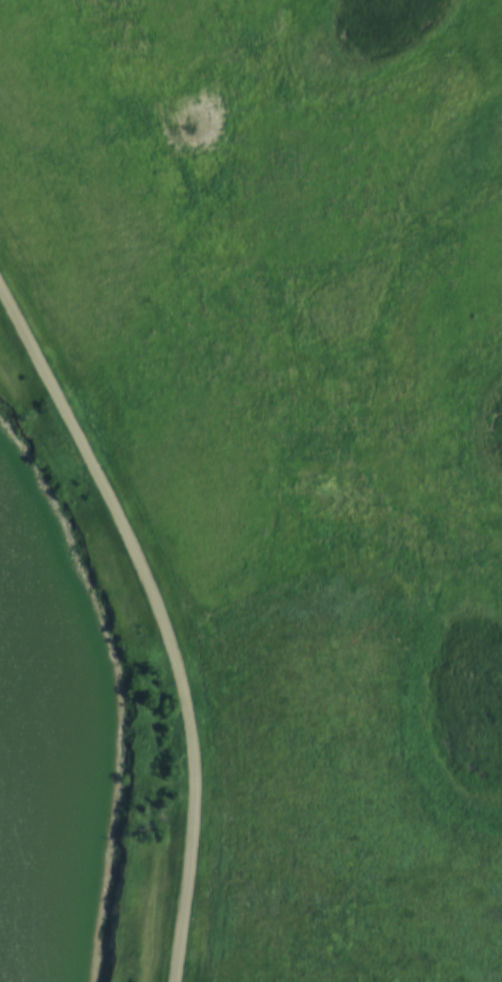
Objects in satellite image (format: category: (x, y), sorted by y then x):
road: (164, 615)

